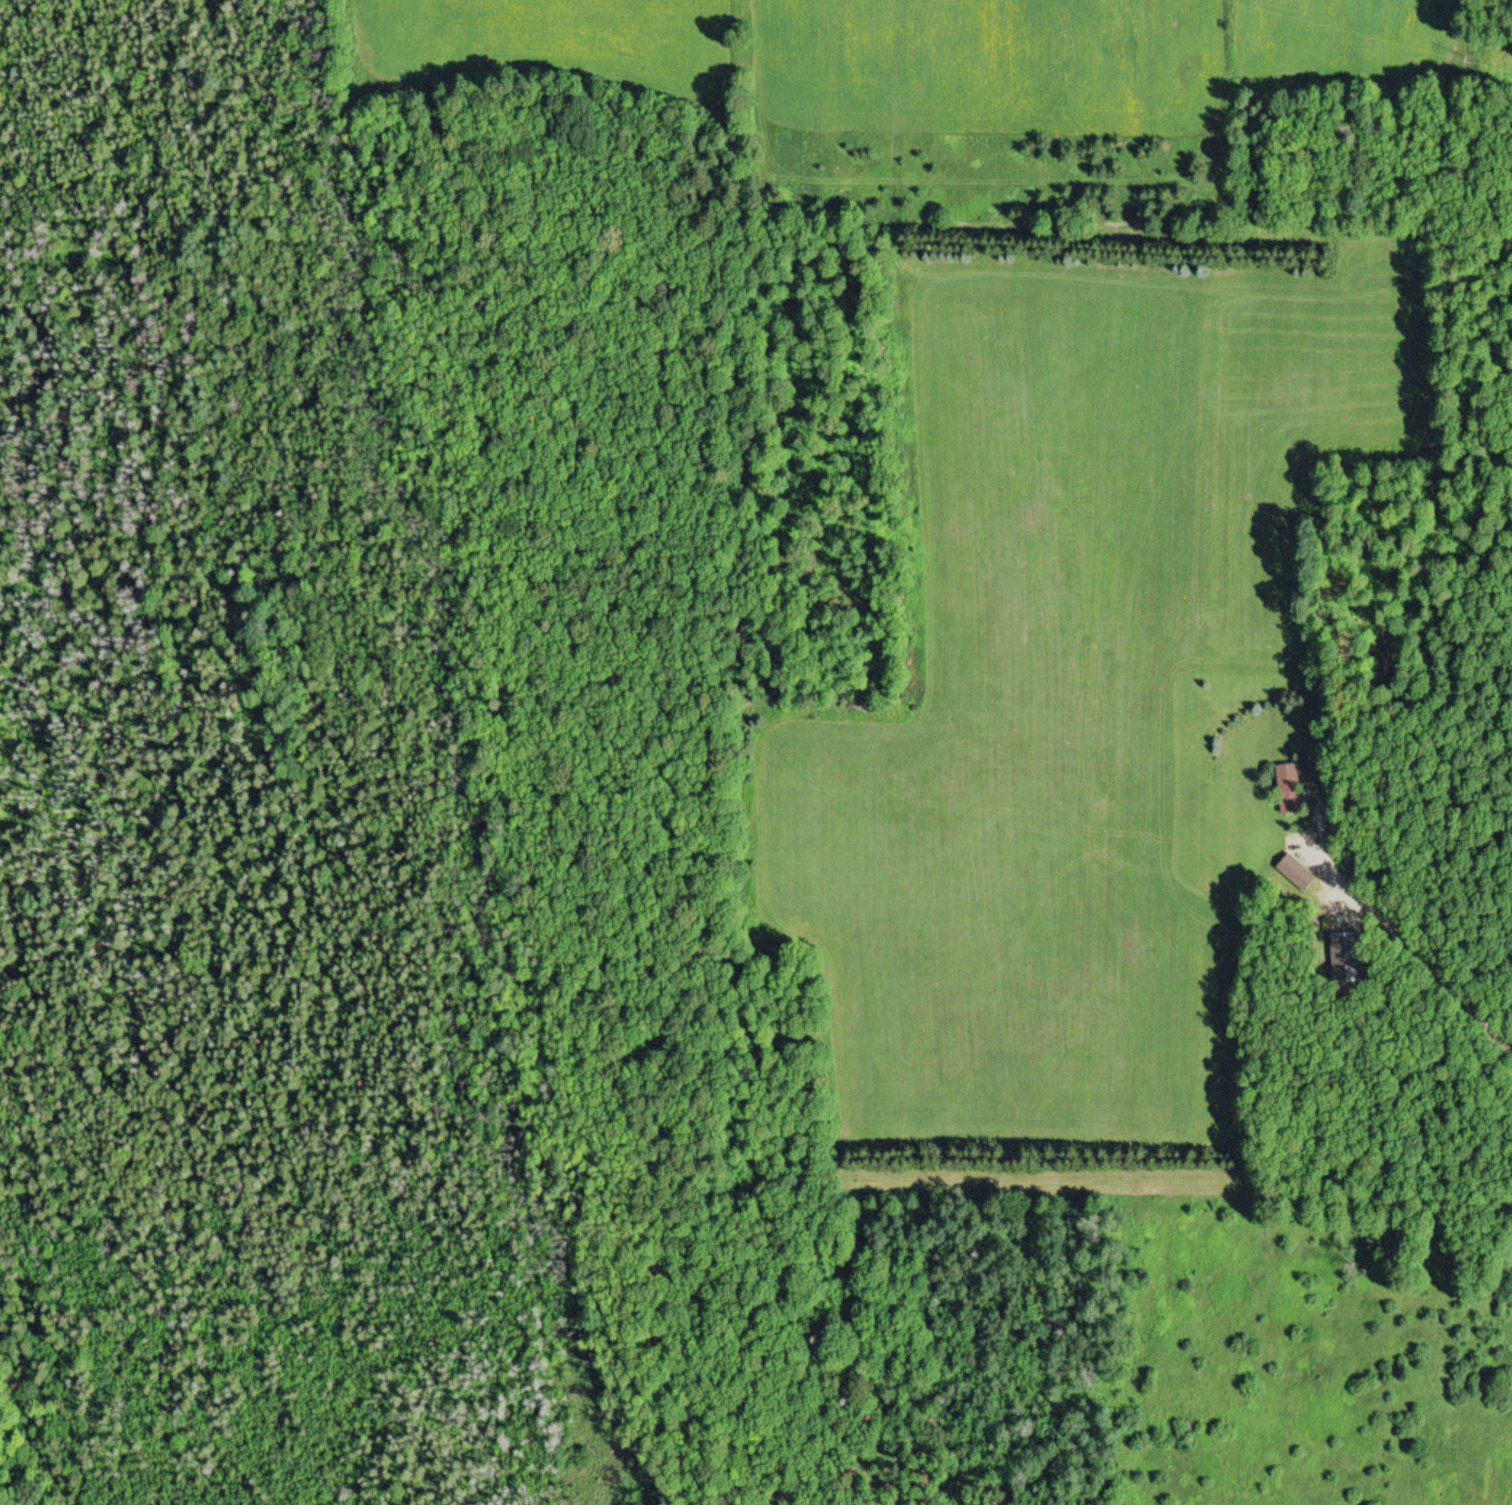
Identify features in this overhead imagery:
building: (1286, 789)

